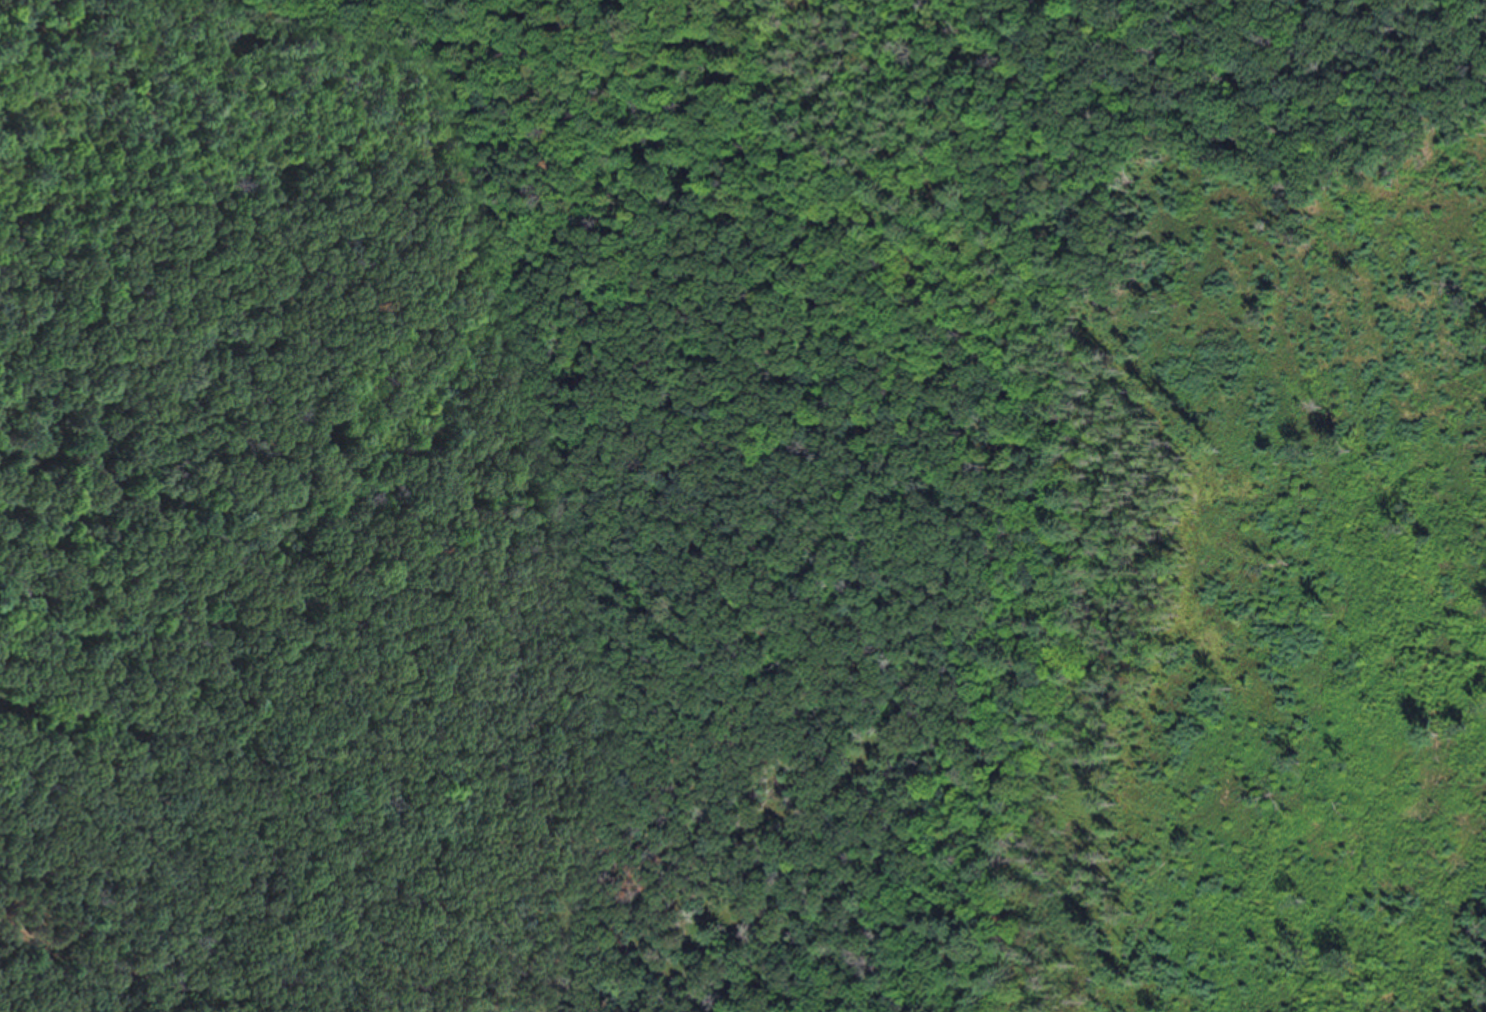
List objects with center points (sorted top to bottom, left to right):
park: (1134, 504)

